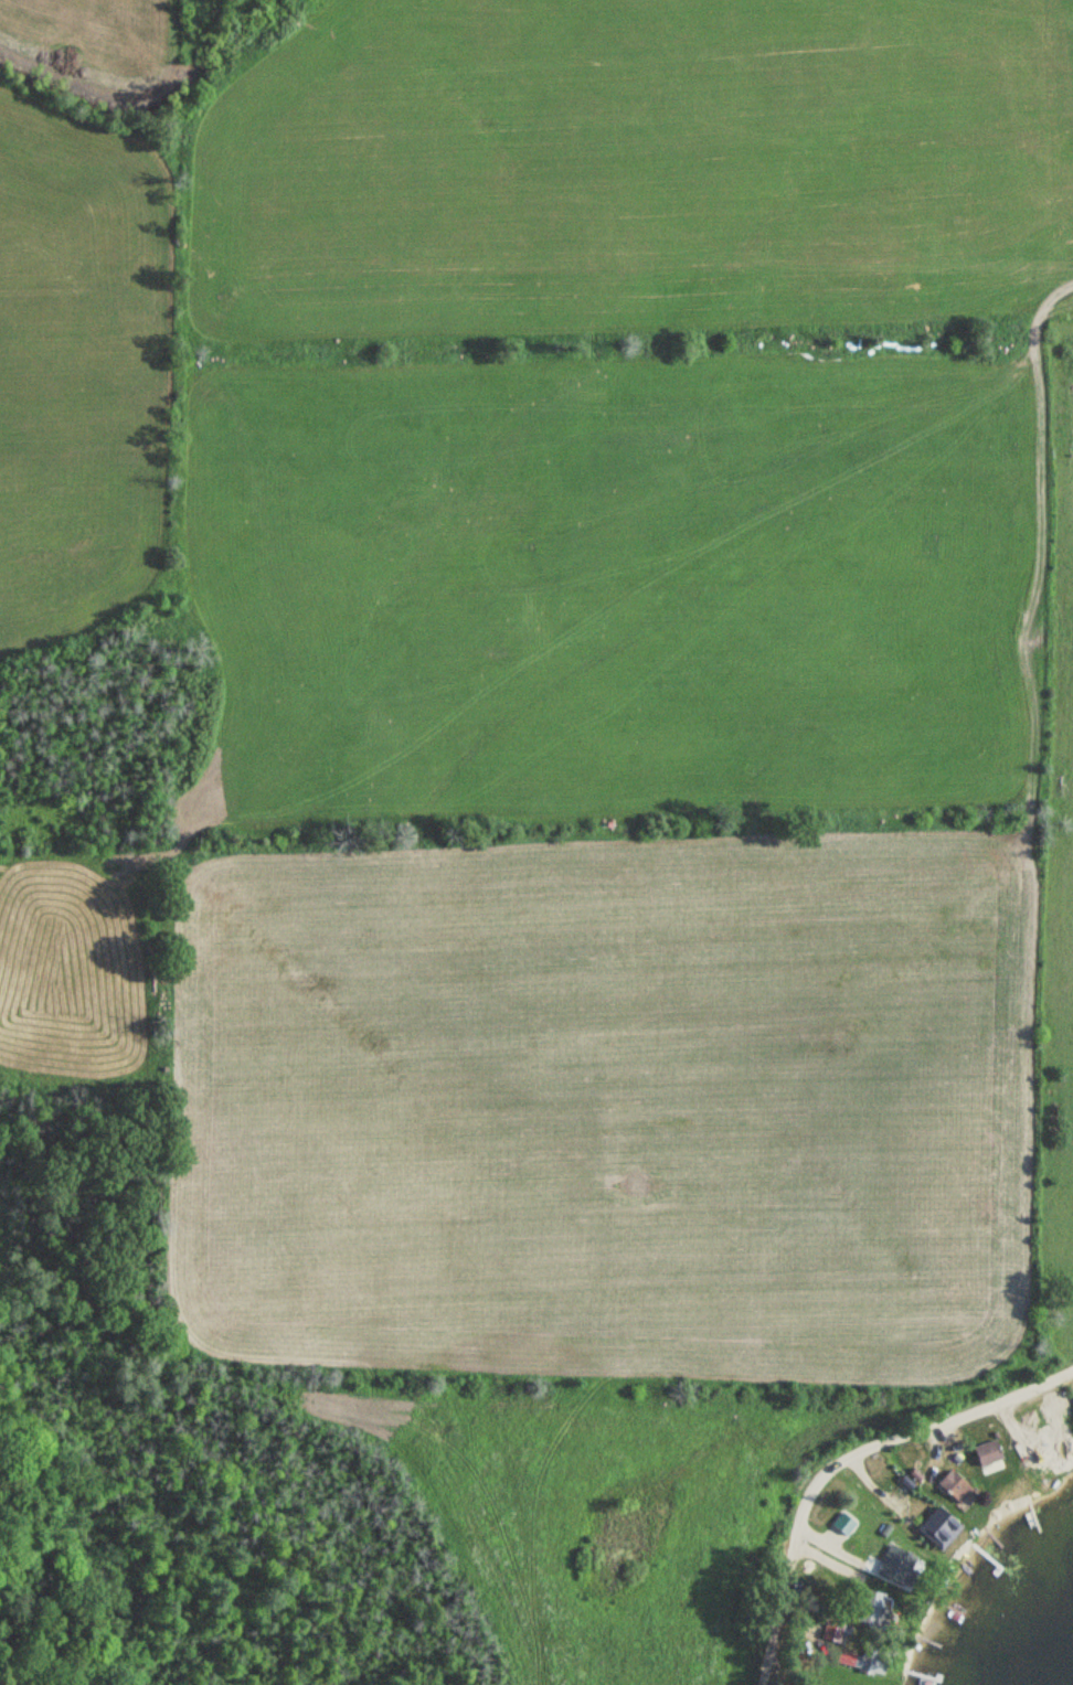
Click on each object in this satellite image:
building: (1055, 1405)
building: (987, 1453)
road: (842, 1458)
building: (956, 1490)
building: (927, 1523)
building: (897, 1565)
building: (869, 1609)

